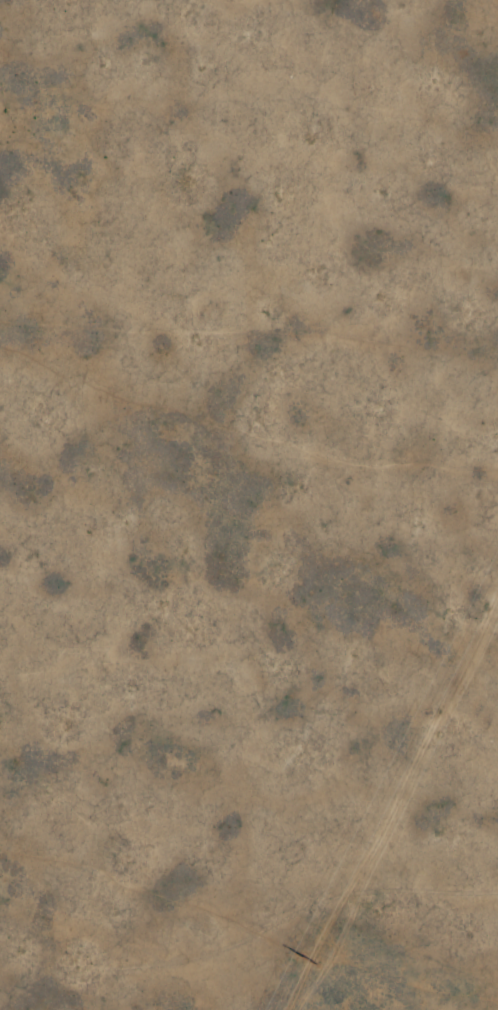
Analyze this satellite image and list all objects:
power tower: (311, 959)

